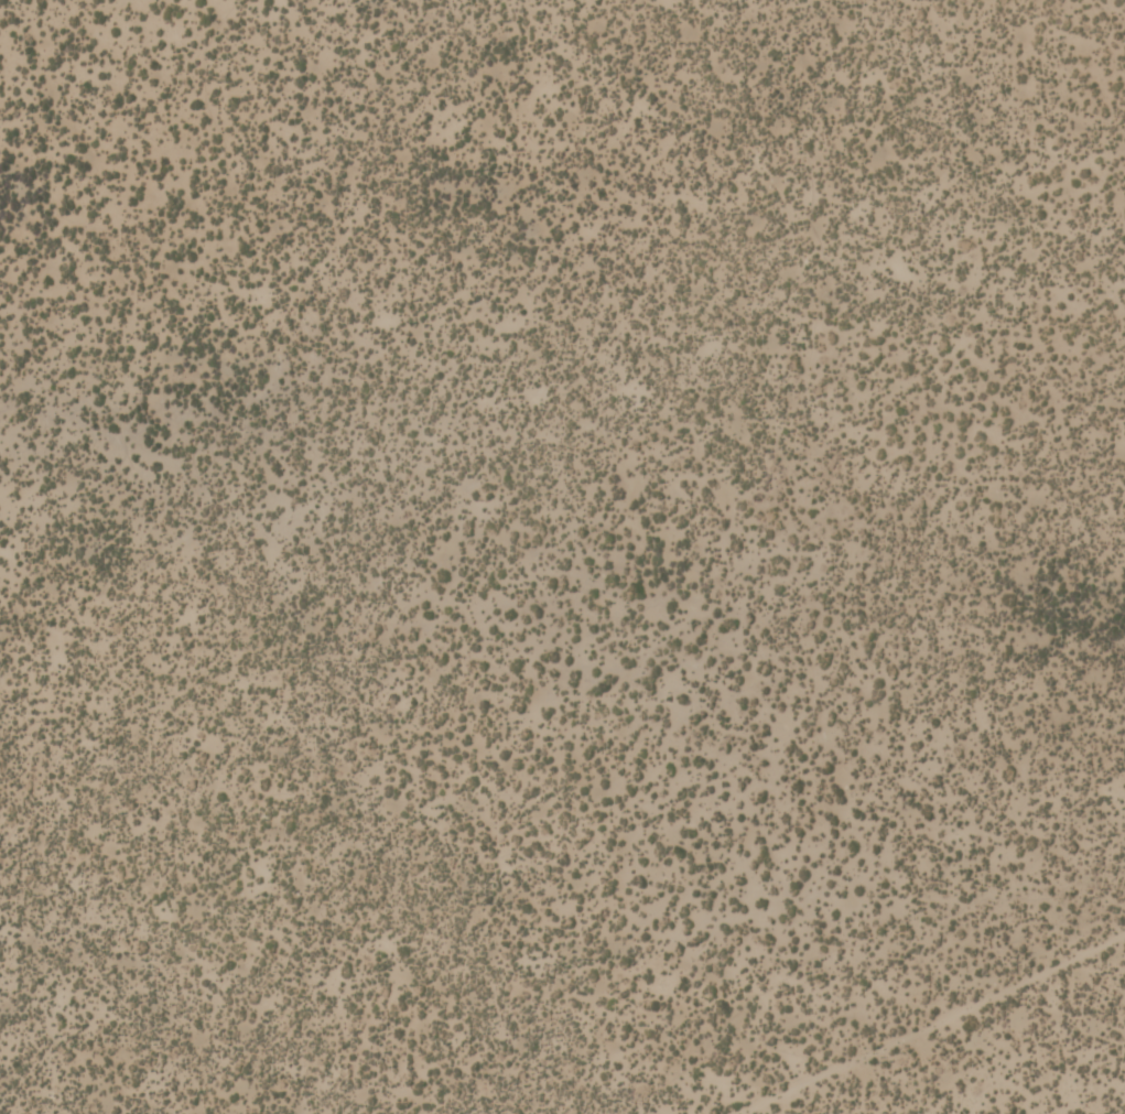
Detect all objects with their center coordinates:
road: (923, 1020)

